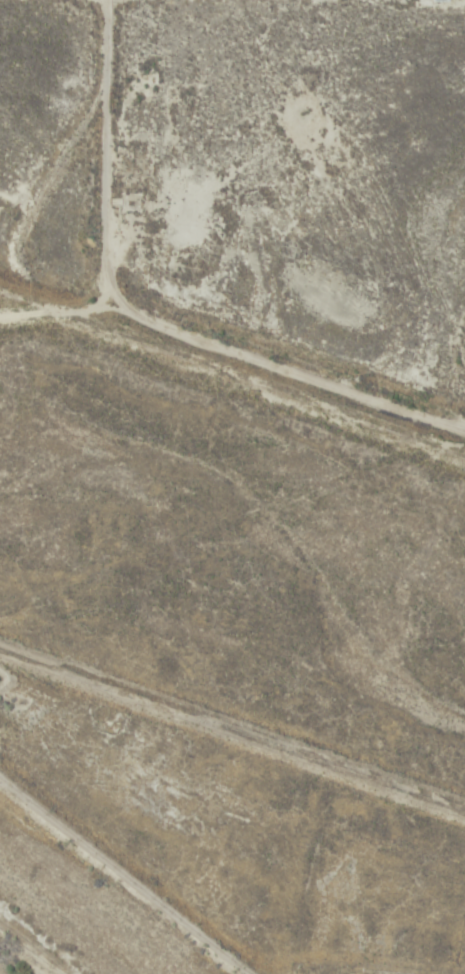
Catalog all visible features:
road: (37, 289)
road: (147, 305)
road: (232, 739)
road: (132, 881)

